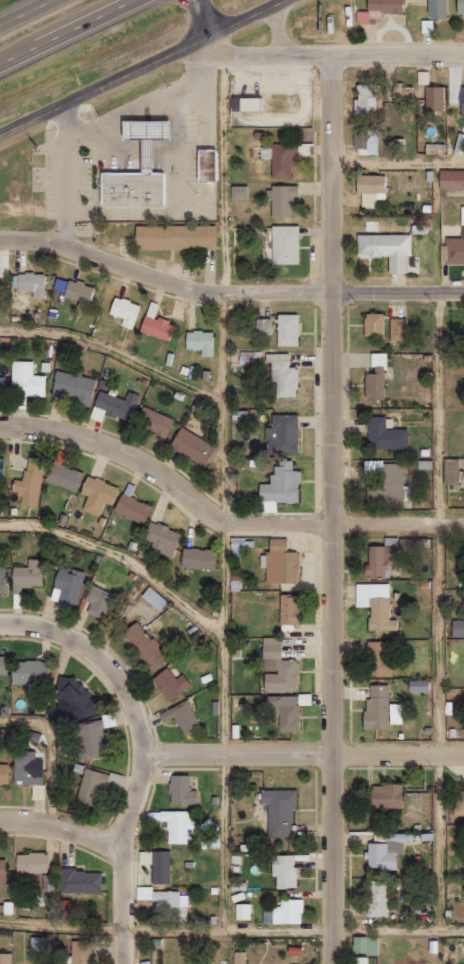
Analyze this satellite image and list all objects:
building: (458, 7)
building: (376, 9)
building: (434, 9)
road: (24, 12)
road: (200, 17)
road: (67, 33)
road: (332, 56)
road: (141, 67)
building: (402, 93)
building: (362, 98)
building: (432, 98)
building: (460, 101)
building: (249, 104)
building: (147, 135)
gas station: (147, 135)
building: (458, 143)
building: (432, 149)
road: (399, 158)
building: (280, 159)
building: (207, 163)
road: (64, 177)
building: (450, 179)
building: (133, 186)
building: (367, 188)
building: (237, 192)
building: (279, 200)
building: (461, 215)
building: (175, 235)
building: (283, 244)
building: (384, 249)
building: (454, 250)
building: (27, 283)
building: (72, 291)
road: (228, 292)
building: (123, 311)
building: (153, 323)
building: (371, 324)
building: (262, 326)
building: (285, 329)
building: (395, 329)
building: (197, 342)
road: (116, 346)
building: (281, 375)
building: (25, 379)
building: (372, 384)
building: (2, 386)
building: (72, 386)
building: (115, 404)
building: (152, 421)
building: (280, 434)
building: (383, 434)
building: (190, 446)
building: (3, 467)
building: (449, 471)
building: (67, 476)
building: (32, 482)
building: (277, 486)
road: (223, 489)
building: (100, 494)
building: (135, 508)
road: (336, 510)
road: (220, 514)
building: (165, 537)
road: (436, 542)
road: (124, 552)
building: (201, 558)
building: (378, 560)
building: (283, 562)
building: (29, 575)
building: (3, 579)
building: (69, 585)
building: (156, 598)
building: (100, 601)
building: (374, 605)
building: (291, 611)
building: (456, 628)
building: (147, 645)
building: (376, 658)
road: (102, 660)
building: (4, 664)
building: (280, 667)
building: (32, 673)
building: (173, 683)
building: (415, 686)
building: (76, 698)
building: (378, 708)
building: (184, 716)
building: (89, 740)
road: (50, 754)
road: (302, 760)
building: (30, 770)
building: (5, 774)
building: (91, 786)
building: (184, 790)
building: (381, 796)
building: (457, 803)
building: (281, 810)
building: (179, 824)
road: (63, 832)
building: (383, 852)
road: (124, 861)
building: (33, 862)
building: (160, 864)
building: (287, 870)
building: (4, 872)
building: (82, 881)
building: (48, 882)
building: (462, 890)
building: (374, 898)
building: (168, 903)
building: (245, 911)
building: (291, 911)
road: (231, 927)
building: (363, 945)
building: (84, 951)
building: (6, 958)
building: (357, 960)

